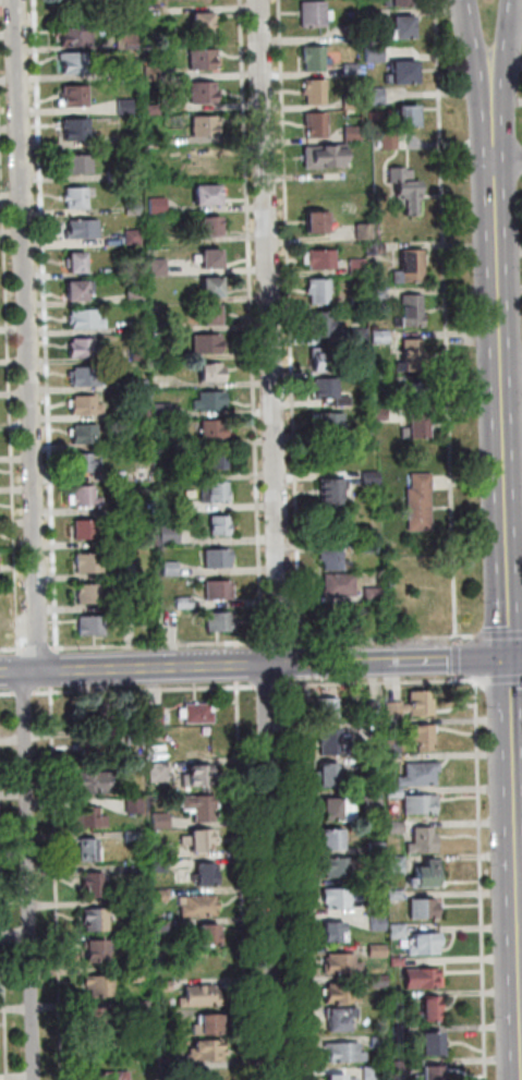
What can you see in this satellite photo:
building: (71, 0)
building: (403, 3)
building: (315, 15)
building: (375, 16)
building: (204, 20)
building: (403, 29)
building: (355, 34)
building: (75, 35)
building: (128, 39)
road: (477, 40)
road: (508, 40)
building: (376, 54)
building: (205, 57)
building: (314, 59)
building: (73, 61)
building: (351, 69)
building: (154, 73)
building: (405, 75)
building: (129, 76)
building: (204, 89)
building: (315, 90)
building: (75, 94)
building: (376, 97)
building: (351, 102)
building: (126, 106)
building: (154, 108)
building: (409, 114)
building: (206, 123)
building: (316, 124)
building: (78, 128)
building: (353, 133)
building: (130, 141)
building: (156, 142)
building: (389, 142)
building: (325, 156)
road: (508, 160)
building: (81, 162)
building: (118, 174)
building: (406, 187)
building: (208, 192)
building: (77, 196)
building: (158, 204)
building: (133, 208)
building: (317, 220)
building: (211, 222)
building: (84, 227)
building: (365, 232)
building: (134, 235)
building: (376, 250)
building: (213, 255)
building: (77, 259)
building: (323, 259)
building: (159, 266)
building: (357, 267)
building: (411, 267)
building: (214, 283)
building: (81, 287)
building: (319, 291)
building: (378, 294)
building: (136, 295)
building: (359, 300)
building: (213, 312)
building: (411, 312)
building: (87, 318)
road: (448, 318)
road: (252, 323)
road: (291, 323)
building: (138, 325)
building: (321, 325)
road: (29, 335)
building: (361, 335)
building: (380, 338)
building: (208, 342)
building: (85, 347)
building: (141, 353)
building: (163, 355)
building: (414, 356)
building: (325, 361)
building: (362, 368)
road: (501, 368)
building: (213, 371)
building: (86, 375)
building: (381, 384)
building: (141, 385)
building: (330, 390)
building: (416, 392)
building: (211, 399)
building: (86, 404)
building: (163, 410)
building: (143, 413)
building: (380, 414)
building: (329, 423)
building: (417, 427)
building: (216, 428)
building: (86, 433)
building: (364, 433)
building: (219, 457)
building: (85, 462)
building: (373, 480)
building: (216, 490)
building: (331, 494)
building: (85, 496)
building: (420, 501)
building: (179, 507)
building: (221, 523)
building: (85, 527)
building: (171, 534)
road: (277, 541)
building: (371, 548)
building: (219, 557)
building: (336, 559)
building: (89, 561)
building: (171, 568)
building: (340, 583)
building: (220, 588)
building: (92, 593)
building: (374, 593)
building: (132, 602)
building: (185, 602)
road: (54, 610)
road: (16, 616)
building: (221, 620)
building: (92, 623)
road: (499, 634)
road: (386, 639)
road: (281, 641)
road: (159, 643)
road: (12, 645)
road: (37, 645)
road: (474, 656)
road: (517, 657)
traffic signals: (511, 658)
road: (296, 660)
road: (250, 663)
road: (255, 665)
road: (9, 668)
road: (53, 668)
road: (501, 680)
road: (377, 681)
road: (266, 687)
road: (145, 691)
road: (8, 694)
road: (25, 694)
building: (414, 705)
building: (329, 709)
building: (375, 711)
building: (199, 712)
building: (156, 715)
building: (372, 731)
building: (424, 738)
building: (335, 743)
building: (396, 745)
building: (373, 767)
building: (160, 772)
building: (420, 774)
building: (198, 776)
building: (330, 776)
building: (95, 781)
building: (390, 782)
building: (396, 793)
building: (374, 800)
building: (422, 803)
building: (135, 806)
building: (202, 806)
building: (341, 810)
building: (92, 818)
building: (161, 821)
building: (397, 828)
building: (133, 837)
building: (199, 840)
building: (332, 840)
building: (425, 841)
building: (378, 848)
road: (517, 849)
building: (90, 850)
building: (398, 864)
building: (160, 866)
building: (342, 866)
building: (139, 873)
building: (428, 873)
building: (208, 874)
road: (29, 875)
building: (379, 876)
road: (298, 877)
road: (482, 878)
road: (243, 881)
building: (95, 883)
road: (57, 884)
building: (397, 895)
building: (161, 897)
building: (341, 898)
building: (198, 906)
building: (376, 908)
road: (3, 909)
building: (425, 909)
building: (170, 914)
building: (139, 918)
building: (96, 920)
building: (380, 923)
building: (163, 926)
building: (399, 931)
building: (336, 932)
building: (209, 935)
building: (426, 944)
building: (97, 950)
building: (379, 950)
building: (399, 961)
building: (343, 964)
building: (139, 974)
building: (425, 978)
building: (380, 982)
building: (101, 985)
building: (165, 986)
building: (343, 994)
building: (202, 996)
building: (404, 998)
building: (143, 1007)
building: (435, 1009)
building: (96, 1019)
building: (342, 1019)
building: (209, 1024)
building: (402, 1033)
building: (381, 1042)
building: (432, 1044)
building: (209, 1051)
building: (347, 1053)
building: (403, 1068)
building: (374, 1073)
building: (434, 1073)
building: (111, 1076)
building: (340, 1078)

